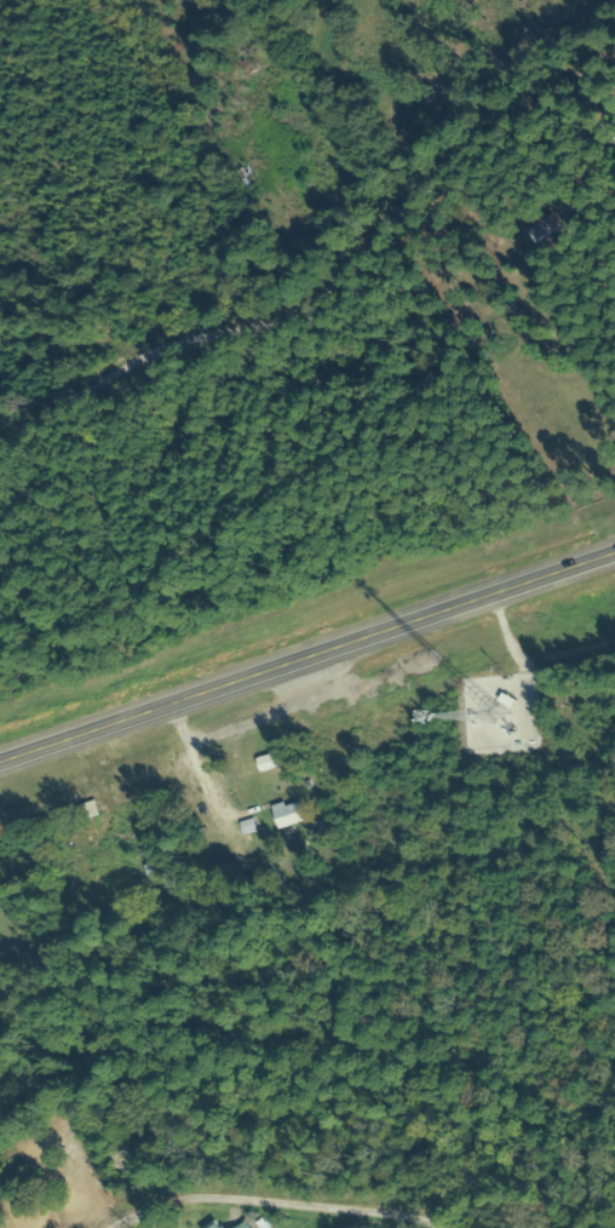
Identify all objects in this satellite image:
building: (248, 67)
road: (426, 172)
building: (564, 355)
road: (307, 661)
building: (272, 762)
building: (88, 810)
building: (289, 814)
building: (19, 863)
building: (301, 878)
building: (121, 1159)
road: (278, 1212)
building: (245, 1226)
building: (215, 1227)

